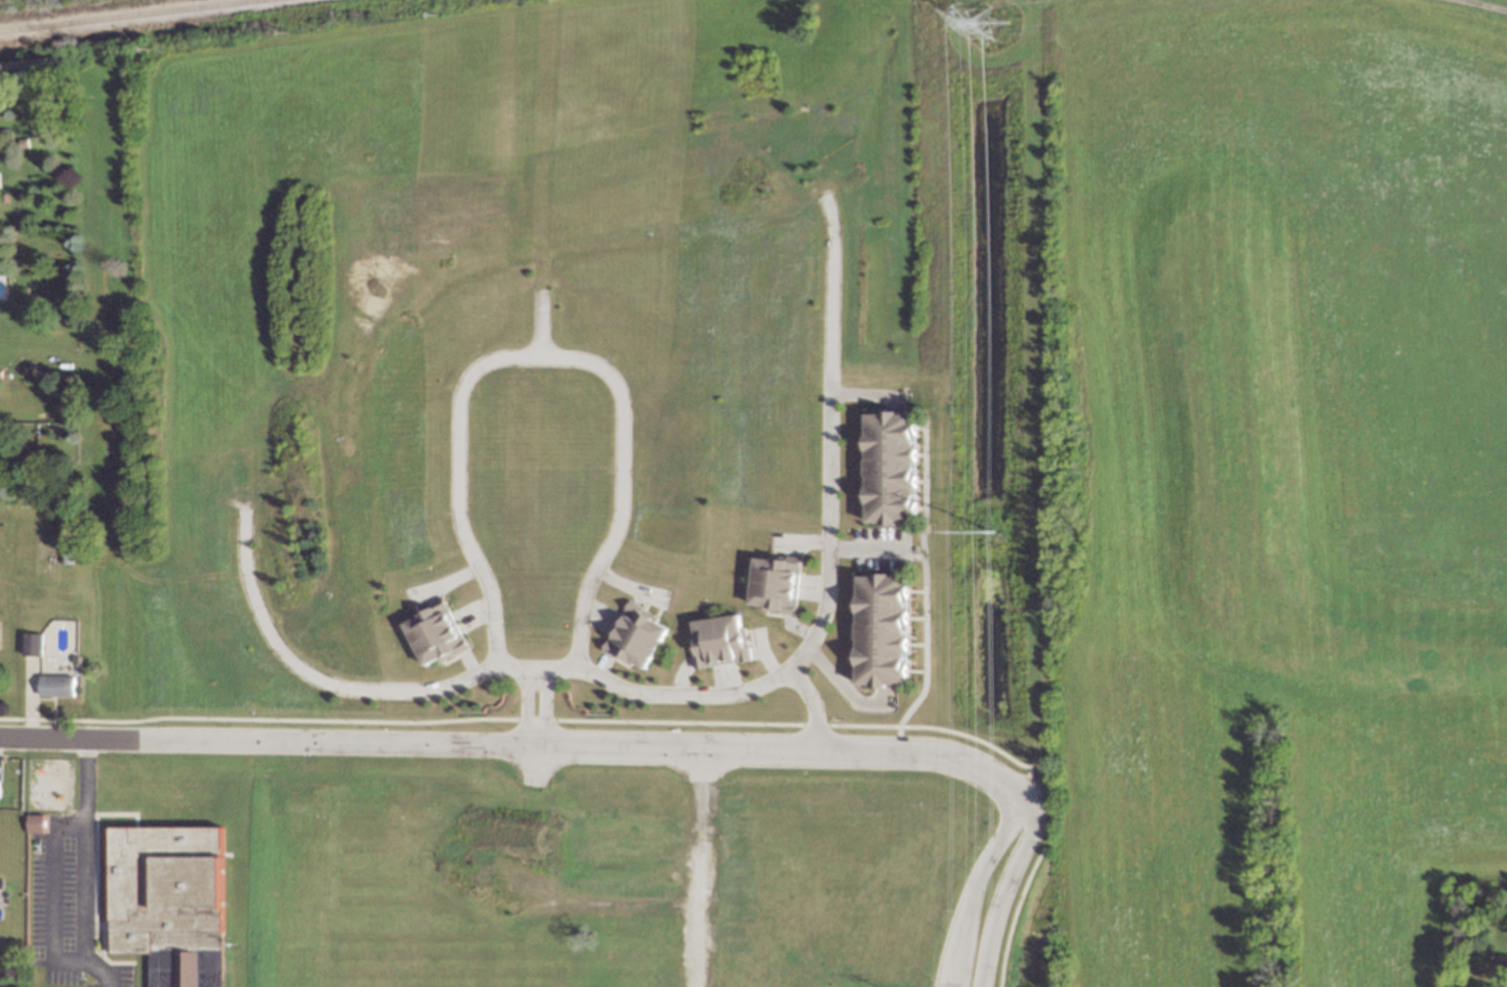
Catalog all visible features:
railway: (129, 15)
power tower: (985, 22)
road: (537, 324)
building: (891, 468)
road: (450, 485)
road: (617, 491)
crop: (1267, 493)
power tower: (991, 535)
road: (874, 549)
park: (41, 560)
road: (825, 567)
building: (775, 583)
road: (925, 589)
park: (7, 625)
building: (882, 630)
building: (433, 634)
building: (636, 636)
building: (721, 641)
building: (29, 646)
road: (837, 682)
building: (57, 686)
road: (327, 686)
road: (27, 699)
road: (39, 699)
road: (809, 705)
road: (50, 718)
road: (529, 726)
road: (510, 746)
building: (35, 823)
road: (84, 869)
road: (968, 887)
road: (1003, 887)
road: (51, 895)
building: (167, 898)

